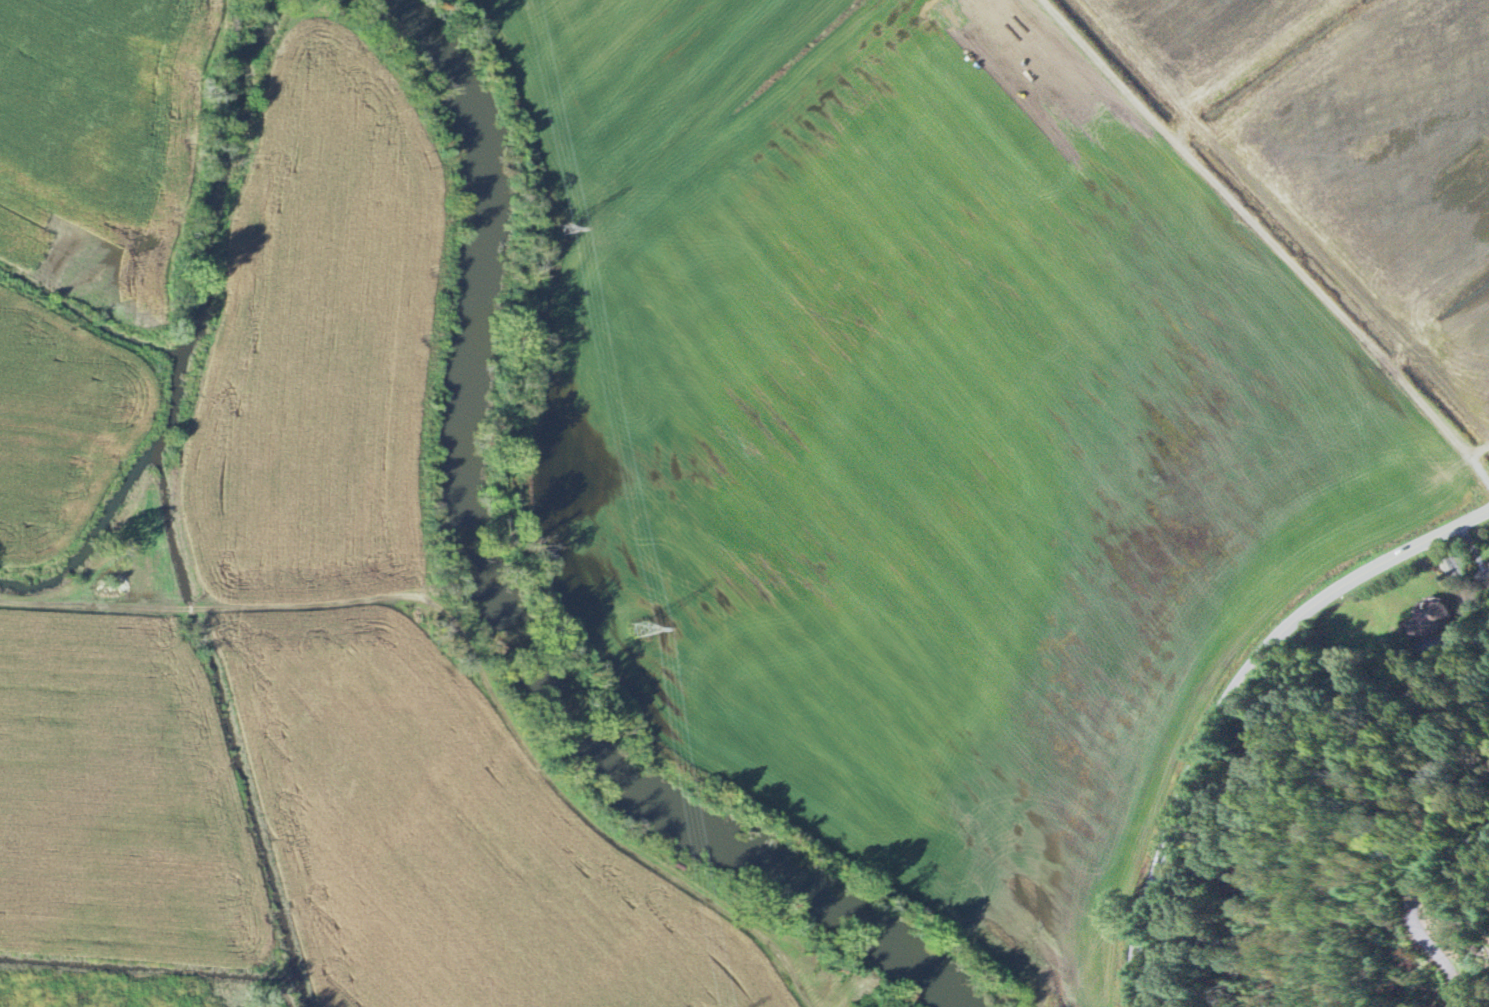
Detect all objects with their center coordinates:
power tower: (560, 228)
building: (1488, 570)
river: (496, 597)
power tower: (641, 630)
road: (471, 659)
road: (1227, 697)
road: (1415, 901)

